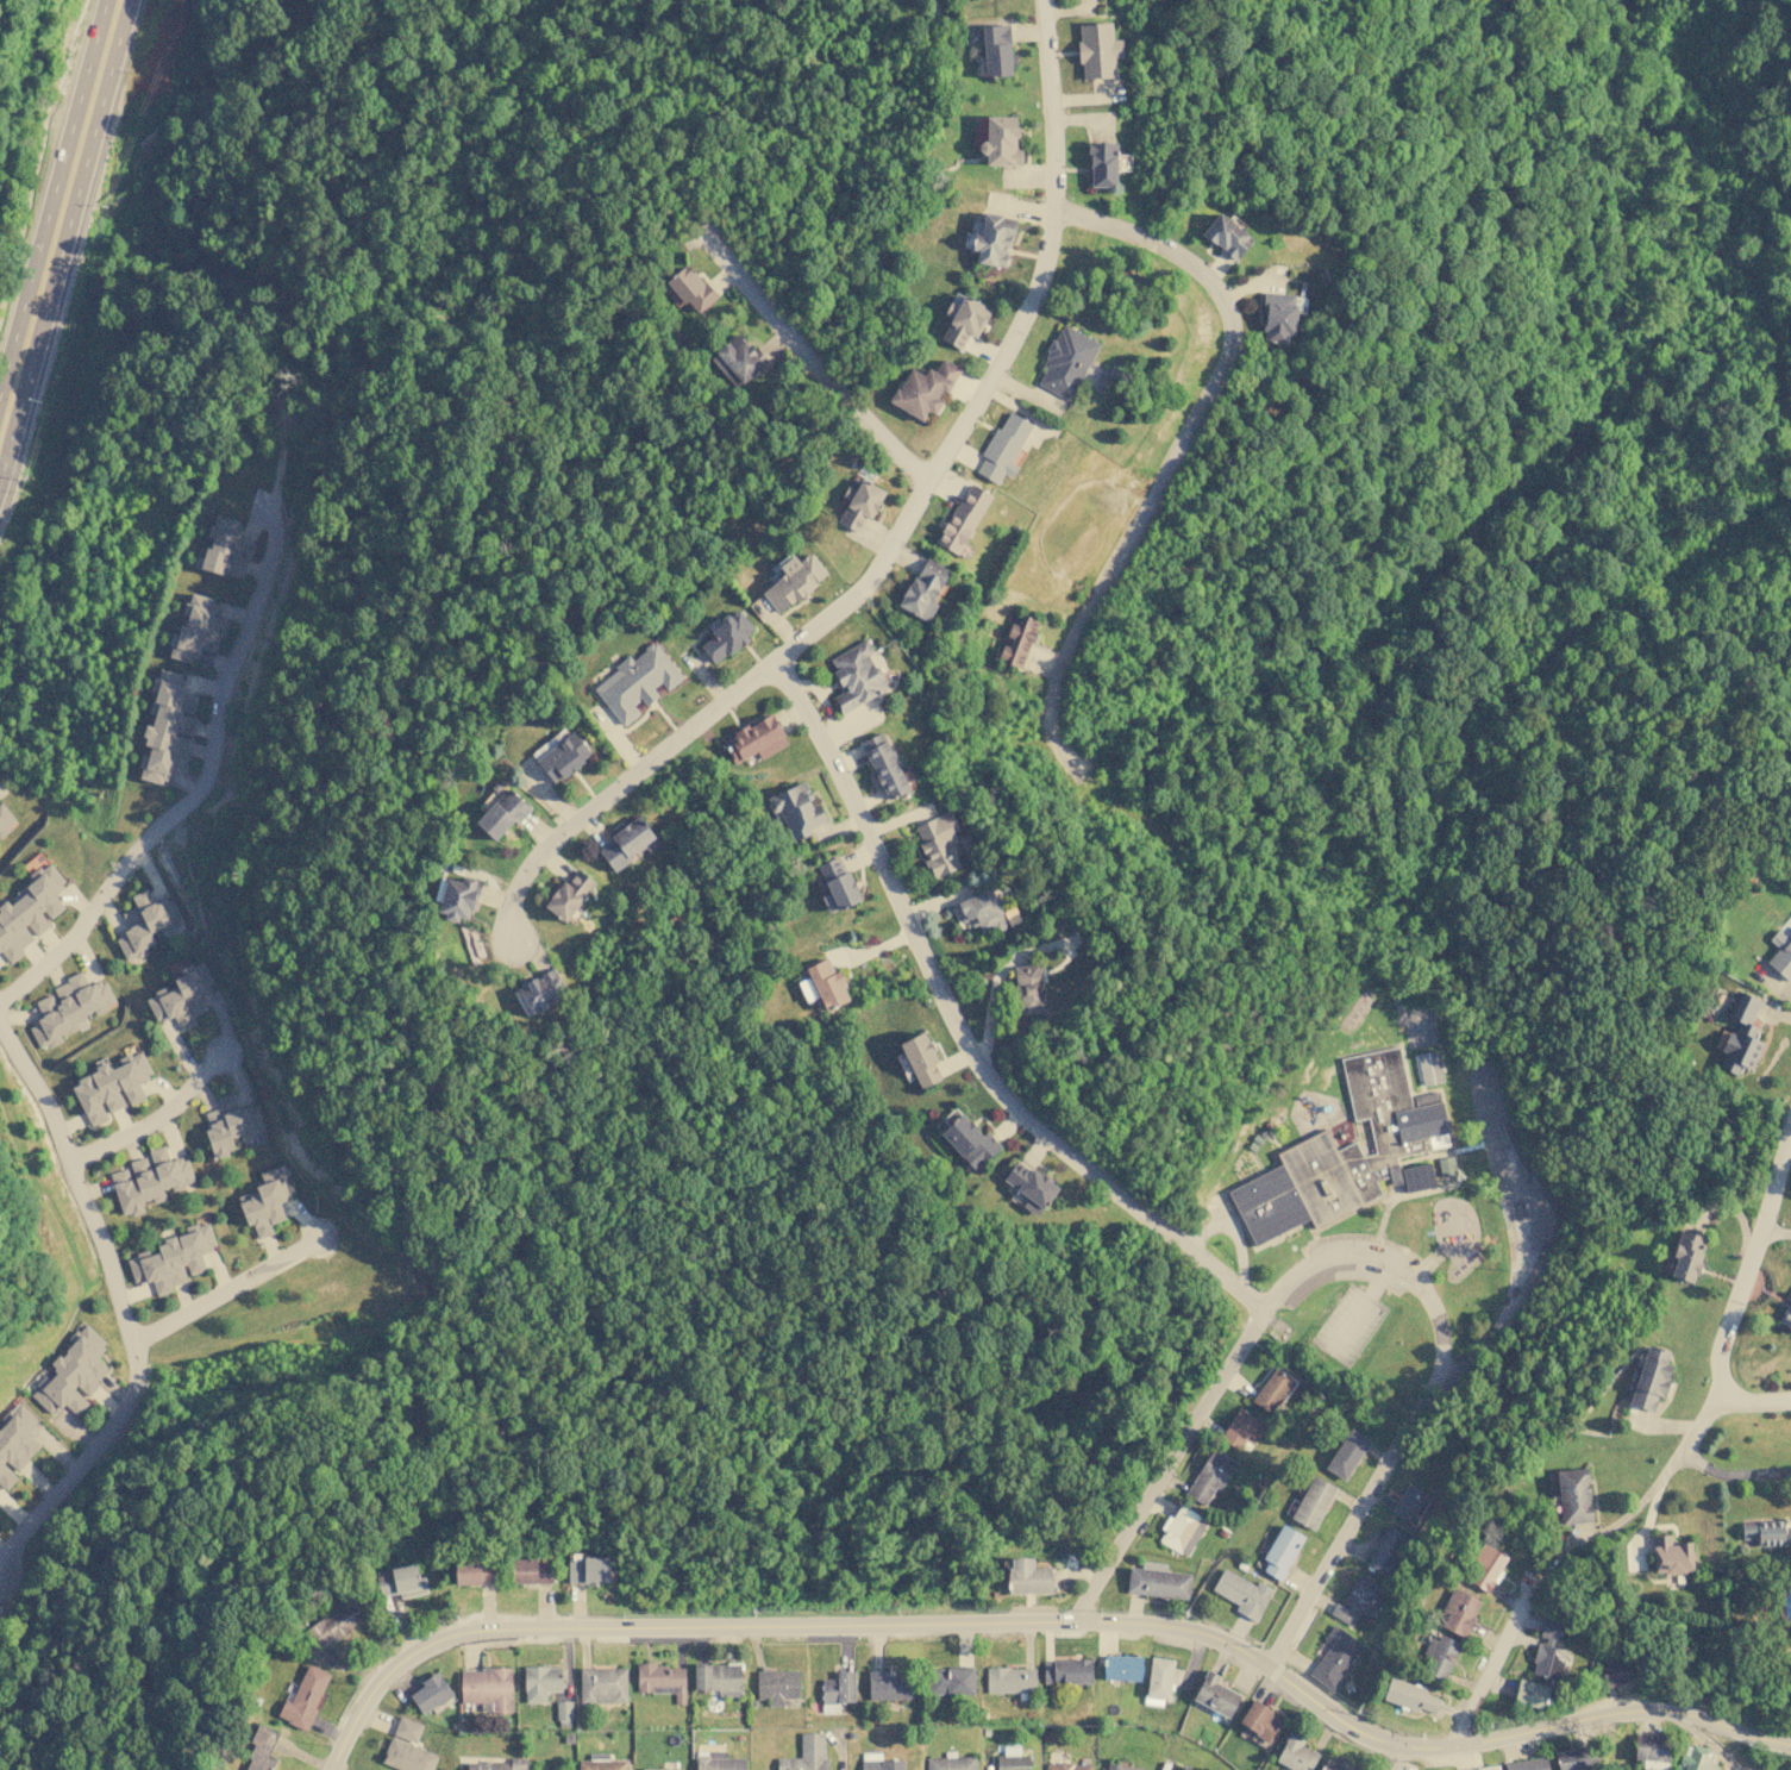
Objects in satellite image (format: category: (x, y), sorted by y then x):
building: (996, 50)
building: (1097, 50)
building: (1001, 140)
building: (1102, 163)
road: (52, 194)
road: (65, 236)
building: (1226, 236)
building: (690, 288)
building: (1278, 315)
building: (964, 320)
building: (737, 359)
building: (1065, 362)
road: (815, 369)
building: (923, 388)
building: (1002, 448)
road: (1175, 458)
building: (859, 505)
building: (963, 518)
building: (224, 548)
building: (793, 580)
building: (923, 589)
building: (196, 628)
building: (726, 637)
building: (1017, 639)
building: (857, 675)
building: (635, 681)
road: (812, 723)
building: (168, 727)
building: (754, 739)
building: (563, 757)
building: (884, 765)
road: (621, 786)
road: (193, 796)
building: (796, 808)
building: (501, 813)
building: (5, 821)
building: (627, 842)
building: (938, 844)
building: (835, 883)
building: (569, 894)
building: (457, 897)
building: (30, 911)
building: (981, 911)
building: (145, 922)
building: (1780, 955)
building: (827, 982)
building: (1028, 988)
building: (807, 989)
building: (539, 990)
building: (182, 996)
building: (68, 1007)
building: (1740, 1034)
building: (921, 1059)
building: (1429, 1067)
building: (111, 1087)
road: (154, 1118)
building: (230, 1124)
building: (967, 1139)
building: (1346, 1153)
building: (1446, 1165)
building: (149, 1178)
building: (1029, 1187)
building: (265, 1201)
road: (1532, 1239)
building: (1686, 1256)
building: (173, 1258)
road: (1739, 1291)
road: (226, 1293)
road: (118, 1307)
building: (1786, 1316)
building: (71, 1372)
building: (1651, 1377)
building: (1271, 1390)
road: (1424, 1402)
building: (1241, 1427)
building: (14, 1441)
building: (1346, 1453)
building: (1210, 1475)
road: (1150, 1494)
building: (1573, 1495)
building: (1313, 1502)
building: (1410, 1502)
building: (1181, 1530)
building: (1765, 1532)
building: (1385, 1550)
road: (1566, 1551)
building: (1280, 1552)
building: (1671, 1555)
building: (1484, 1566)
building: (587, 1569)
building: (474, 1571)
building: (531, 1571)
building: (1027, 1576)
building: (400, 1581)
building: (1157, 1581)
building: (1241, 1593)
building: (1357, 1600)
building: (1458, 1612)
building: (333, 1622)
road: (848, 1626)
building: (1547, 1651)
building: (1440, 1655)
building: (1334, 1656)
building: (1122, 1668)
building: (1066, 1671)
building: (1616, 1671)
building: (718, 1677)
building: (1010, 1678)
building: (662, 1680)
building: (952, 1680)
building: (540, 1681)
building: (1158, 1681)
building: (602, 1684)
building: (889, 1684)
building: (777, 1687)
building: (487, 1688)
building: (837, 1690)
building: (430, 1693)
building: (1530, 1693)
building: (1215, 1694)
building: (305, 1695)
building: (1409, 1695)
building: (563, 1712)
road: (1597, 1714)
building: (1259, 1720)
building: (407, 1728)
building: (261, 1750)
building: (1651, 1750)
building: (1295, 1753)
building: (806, 1755)
building: (407, 1756)
road: (1397, 1757)
building: (1576, 1758)
building: (1696, 1758)
building: (1012, 1759)
building: (718, 1760)
building: (951, 1763)
building: (499, 1764)
building: (603, 1764)
building: (881, 1764)
building: (1334, 1764)
building: (1527, 1764)
building: (1067, 1766)
building: (1121, 1766)
building: (662, 1768)
building: (1184, 1768)
building: (1482, 1768)

